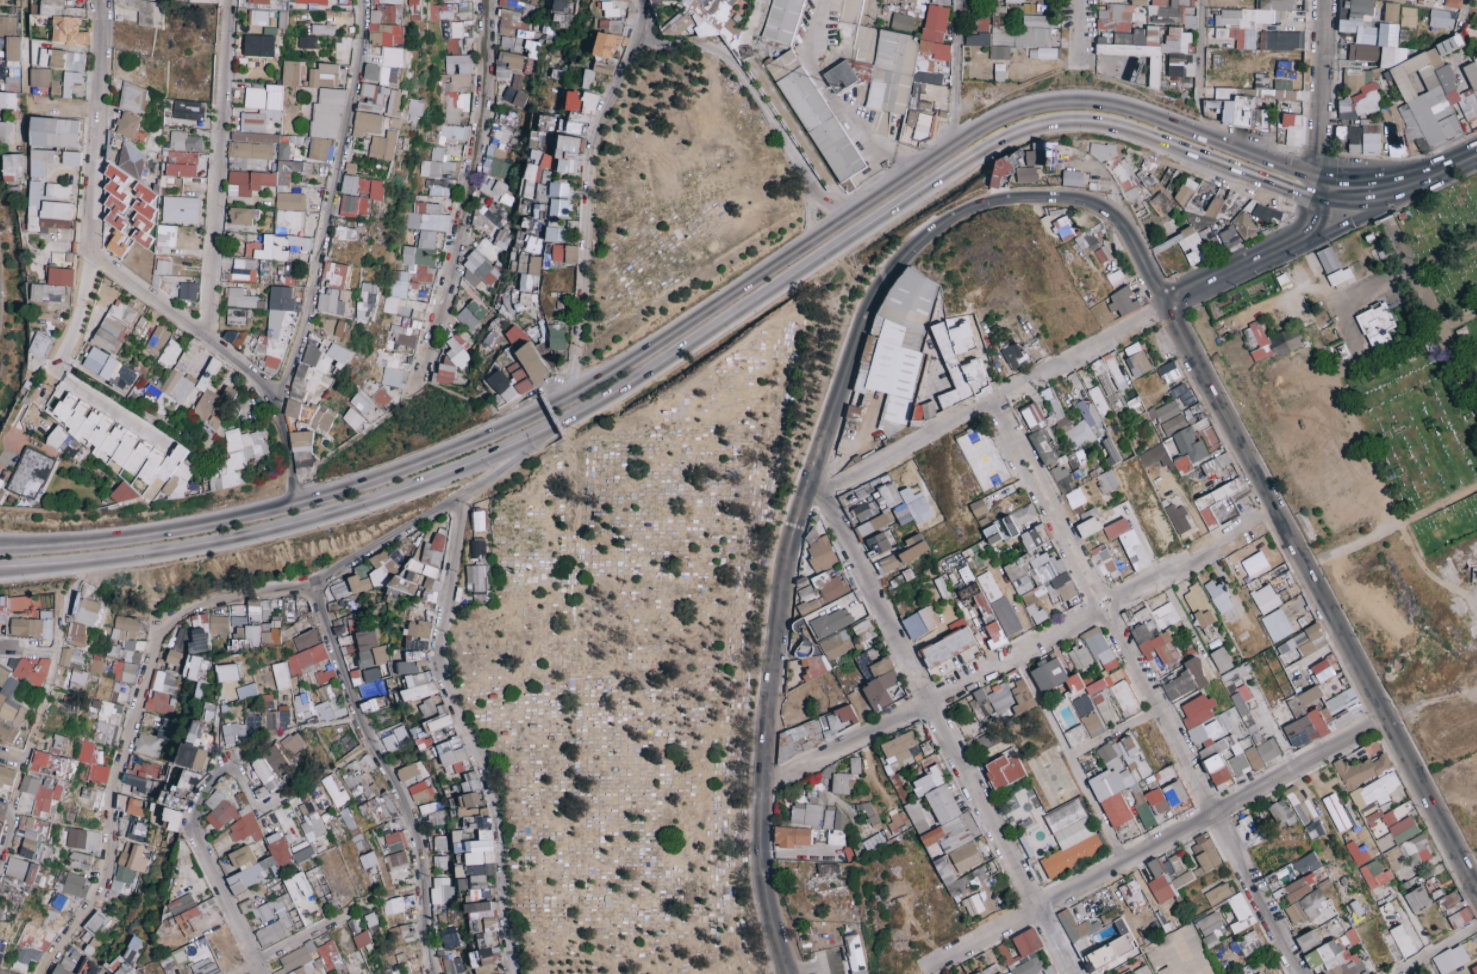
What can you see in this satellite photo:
road: (1072, 31)
park: (1430, 372)
park: (648, 549)

